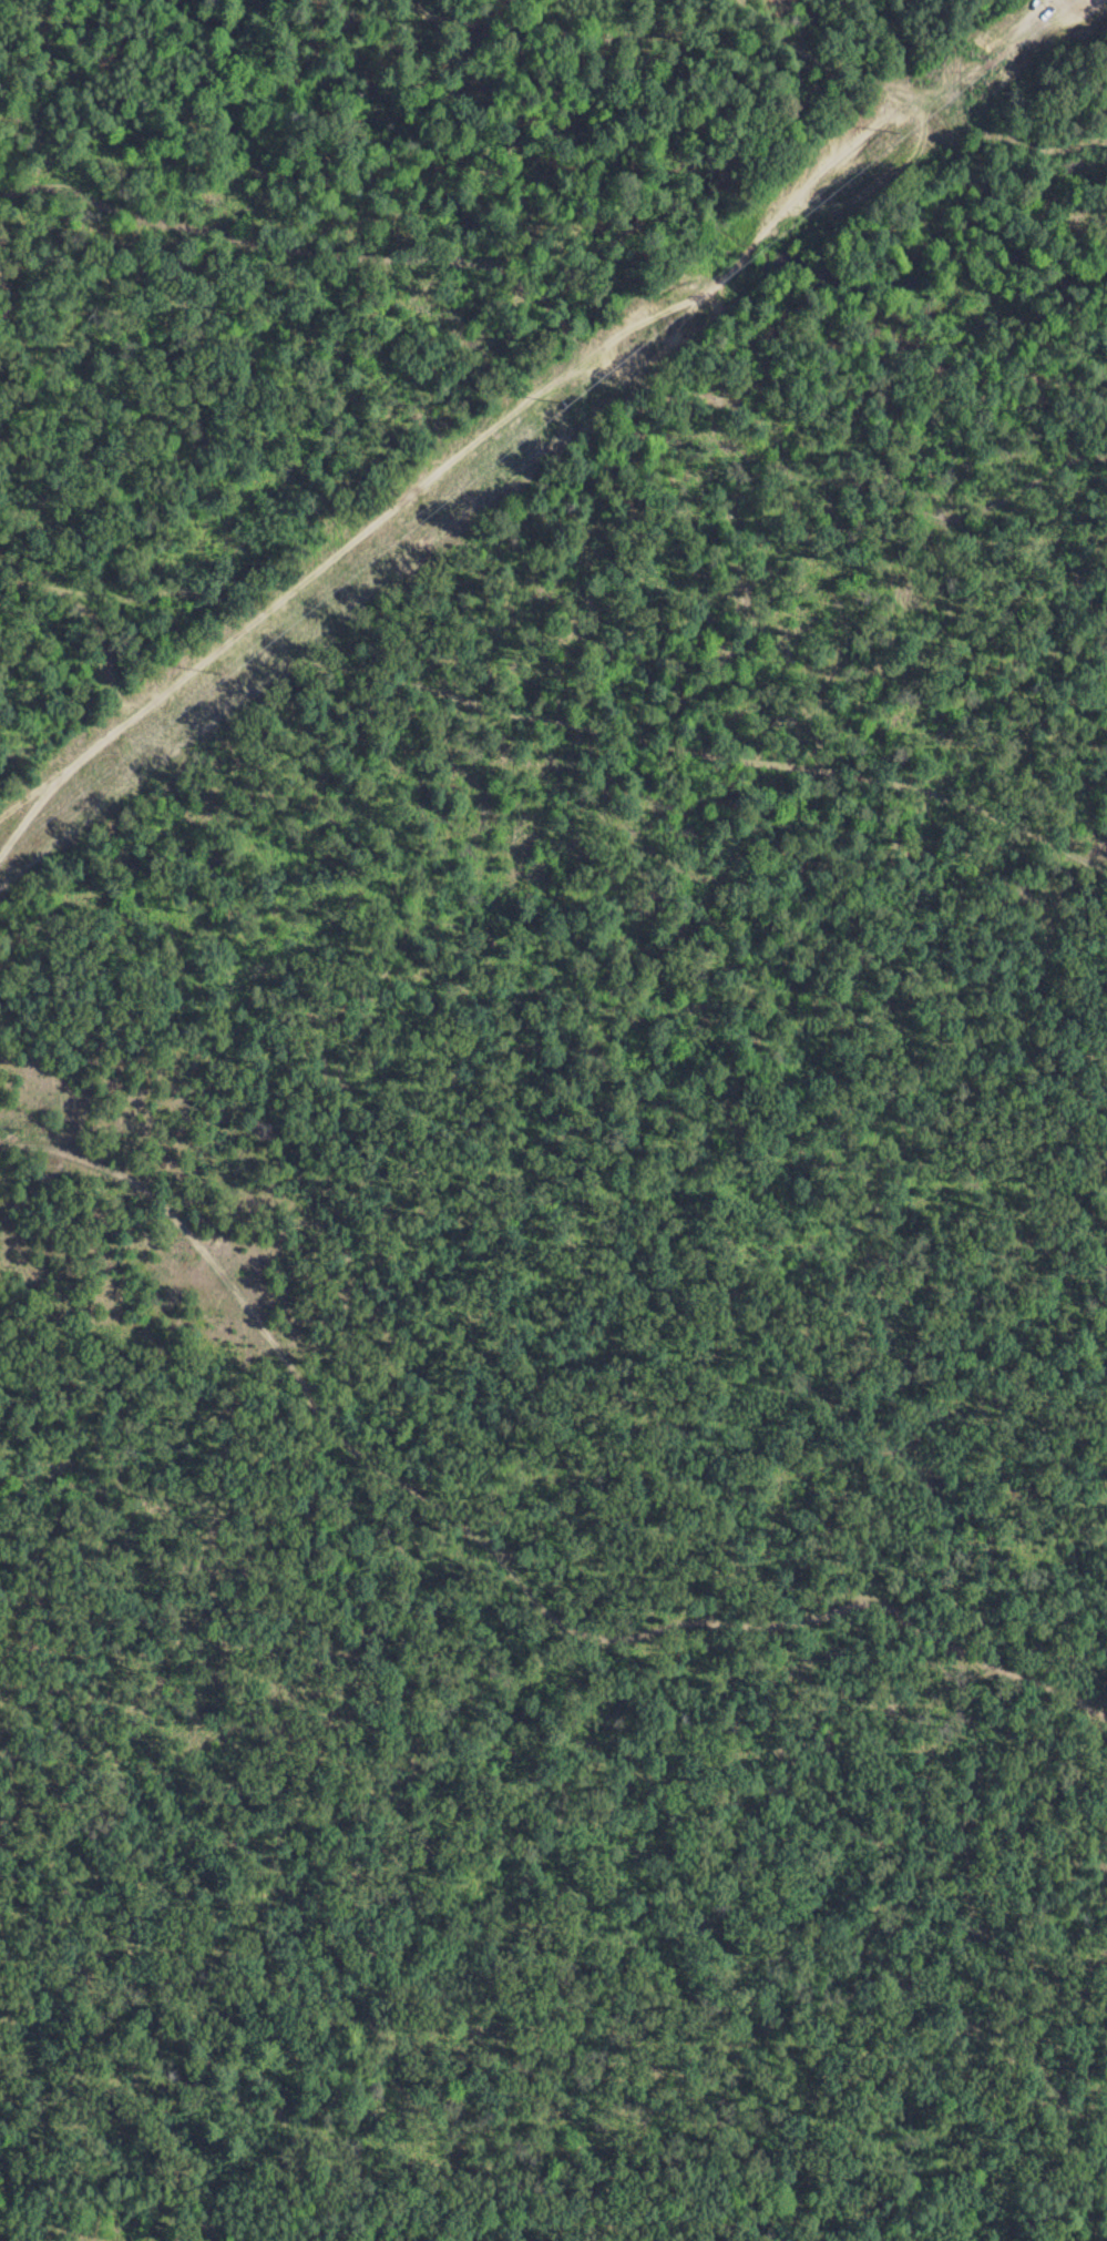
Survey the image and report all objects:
road: (975, 17)
road: (55, 2240)

